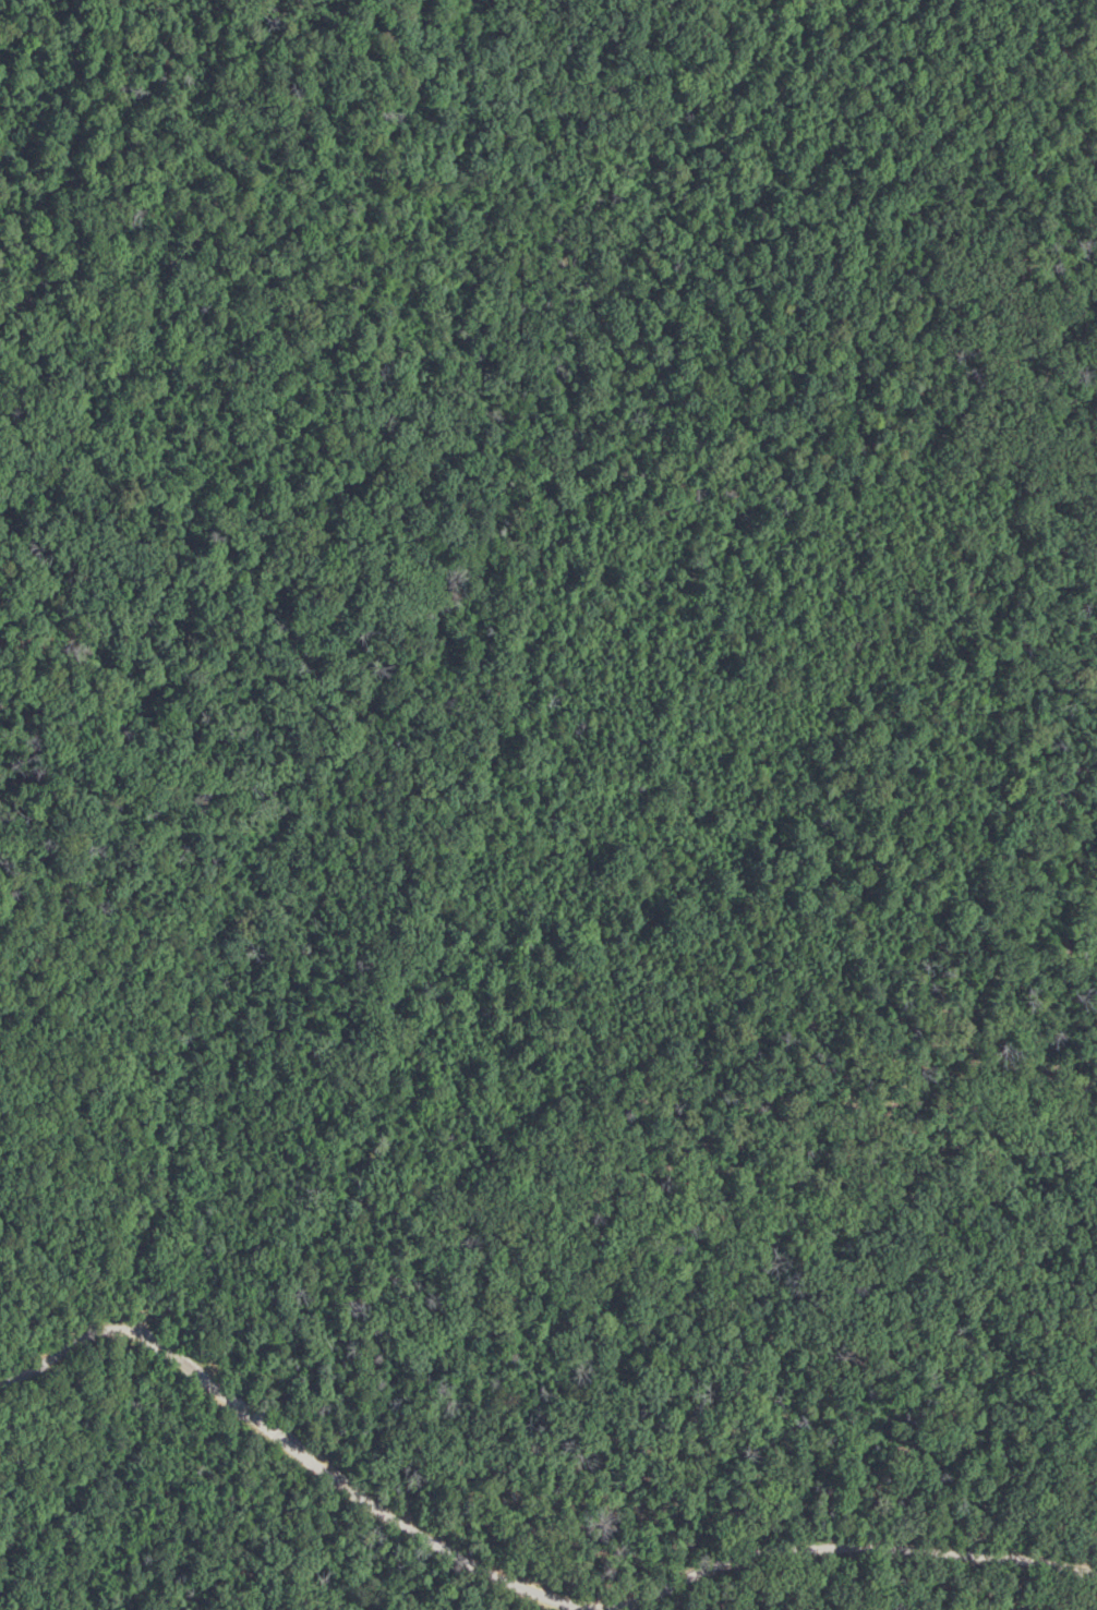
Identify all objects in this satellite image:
road: (287, 1448)
road: (849, 1554)

